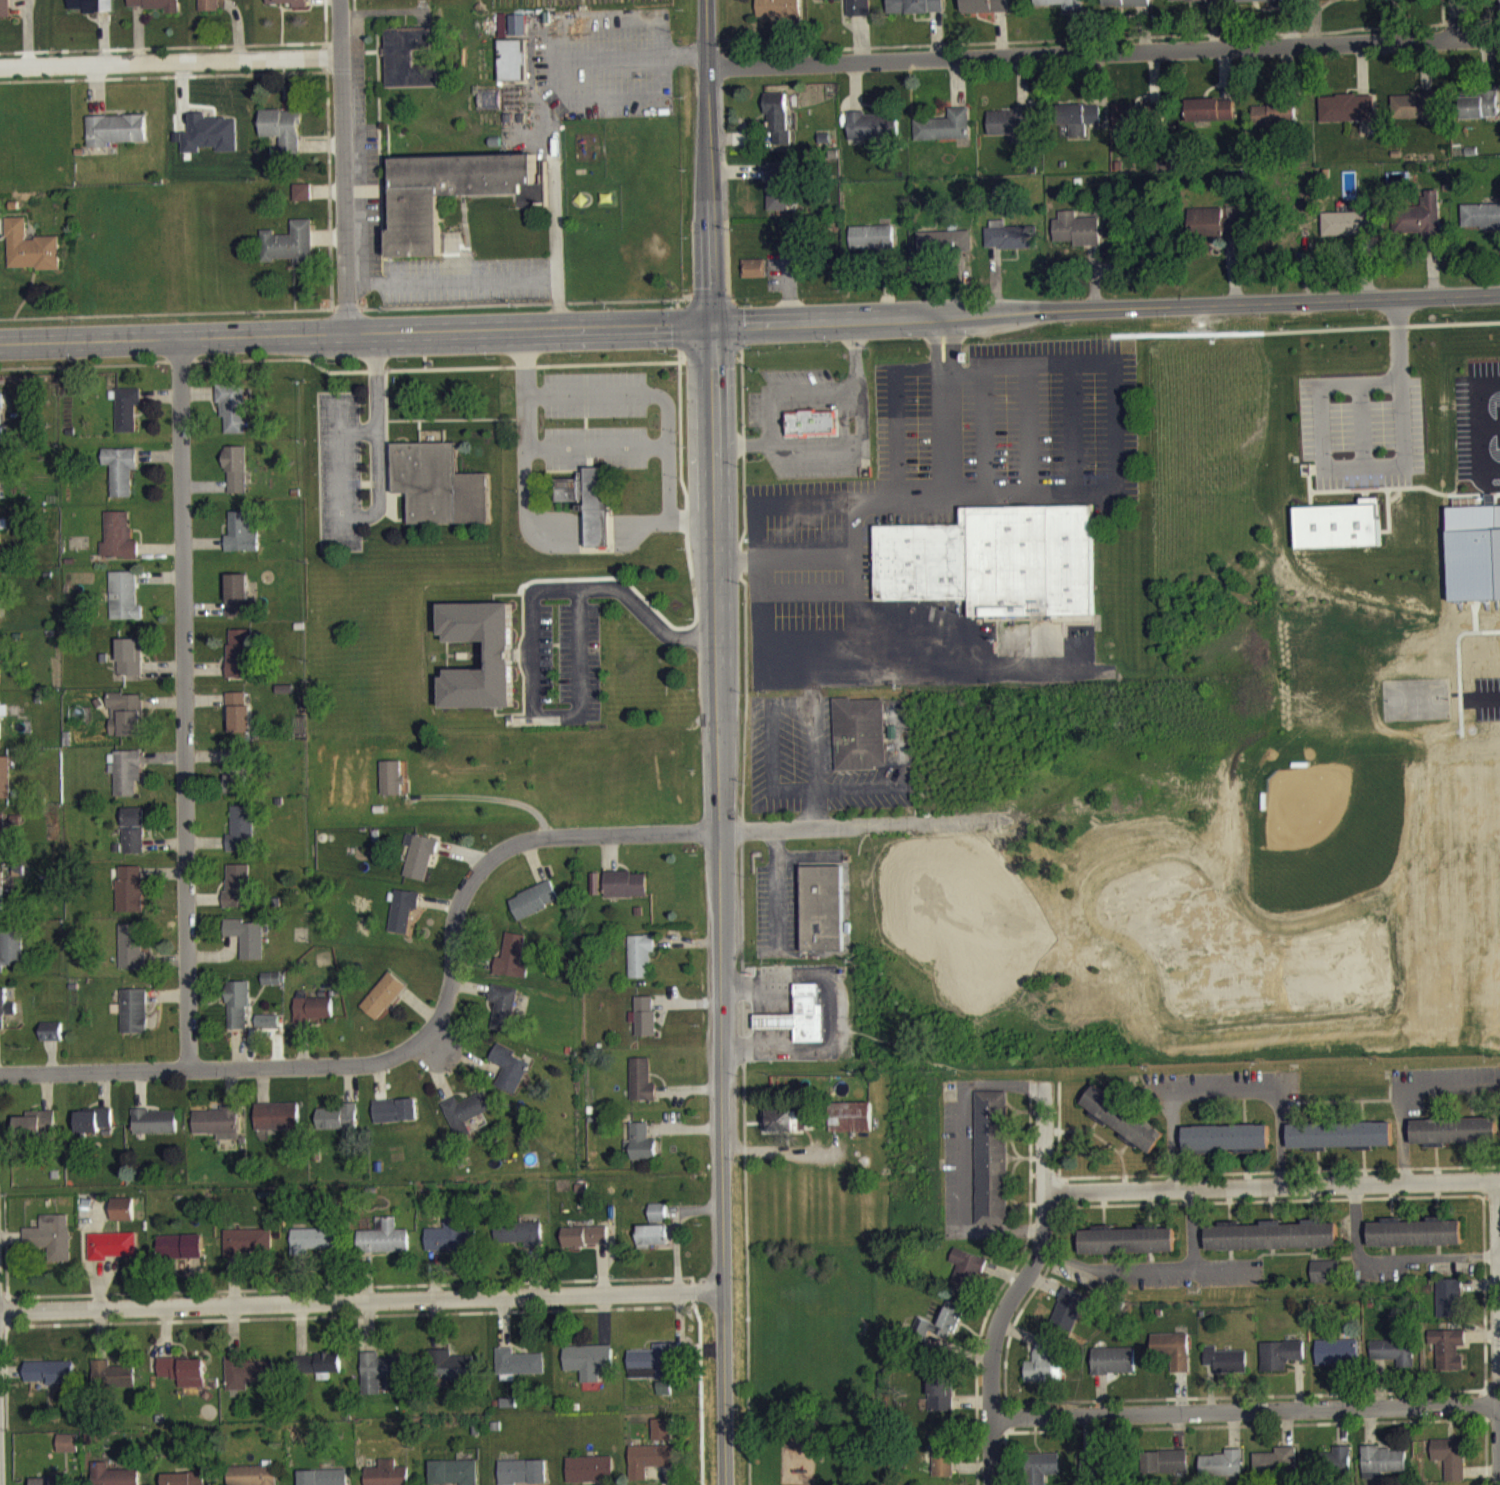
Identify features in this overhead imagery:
building: (1335, 3)
building: (1395, 3)
building: (1195, 5)
building: (1255, 5)
building: (288, 7)
building: (215, 8)
building: (1060, 8)
building: (1127, 8)
building: (155, 9)
building: (91, 10)
building: (849, 10)
building: (915, 11)
building: (986, 11)
building: (5, 13)
building: (778, 15)
road: (1444, 21)
road: (1102, 55)
road: (608, 58)
road: (170, 61)
building: (409, 68)
building: (513, 70)
building: (1414, 115)
building: (1480, 115)
building: (1347, 118)
building: (1210, 119)
building: (1276, 122)
building: (1133, 125)
building: (778, 128)
building: (1079, 128)
building: (1011, 133)
building: (873, 136)
building: (944, 136)
building: (283, 138)
building: (116, 139)
building: (210, 143)
road: (343, 165)
building: (455, 193)
building: (779, 197)
building: (302, 202)
road: (556, 215)
building: (1419, 226)
building: (1481, 226)
building: (1212, 233)
building: (1351, 233)
building: (1077, 239)
building: (31, 245)
building: (1007, 245)
building: (873, 248)
building: (289, 252)
building: (944, 252)
building: (753, 278)
road: (452, 279)
road: (1104, 311)
traffic signals: (709, 324)
road: (941, 329)
road: (354, 331)
road: (949, 360)
road: (935, 361)
road: (655, 407)
building: (1, 411)
building: (233, 416)
building: (127, 419)
road: (1478, 425)
building: (811, 433)
road: (1112, 433)
building: (1, 441)
road: (1370, 474)
building: (236, 478)
building: (121, 480)
road: (377, 494)
building: (439, 495)
building: (589, 512)
building: (1337, 523)
road: (537, 524)
building: (1499, 535)
building: (241, 543)
building: (118, 546)
road: (755, 553)
building: (0, 555)
building: (995, 560)
road: (782, 570)
building: (238, 605)
building: (124, 606)
road: (531, 646)
building: (240, 663)
building: (501, 665)
building: (130, 666)
building: (0, 667)
road: (183, 701)
building: (239, 722)
building: (126, 724)
building: (0, 732)
road: (718, 742)
building: (858, 744)
building: (236, 777)
building: (126, 781)
building: (4, 787)
building: (391, 787)
road: (485, 796)
road: (797, 826)
building: (241, 839)
building: (133, 840)
building: (2, 845)
building: (419, 866)
building: (626, 894)
building: (237, 897)
building: (130, 898)
building: (2, 900)
building: (535, 909)
building: (822, 918)
building: (403, 920)
building: (246, 947)
building: (131, 956)
building: (11, 959)
building: (640, 965)
building: (513, 967)
building: (271, 988)
building: (383, 1005)
road: (841, 1012)
building: (237, 1015)
building: (5, 1016)
building: (504, 1016)
building: (313, 1019)
building: (134, 1021)
building: (800, 1026)
building: (267, 1031)
road: (423, 1034)
building: (52, 1041)
building: (511, 1078)
building: (642, 1090)
road: (1226, 1090)
road: (1407, 1091)
building: (1122, 1117)
building: (396, 1120)
building: (466, 1122)
building: (278, 1126)
building: (338, 1127)
building: (851, 1127)
building: (1453, 1129)
building: (93, 1130)
building: (783, 1130)
building: (155, 1131)
building: (220, 1133)
building: (36, 1134)
building: (1339, 1134)
building: (1225, 1136)
building: (642, 1153)
building: (991, 1168)
road: (1271, 1185)
building: (123, 1219)
building: (658, 1222)
building: (1414, 1230)
building: (1270, 1233)
building: (1126, 1237)
building: (520, 1243)
building: (452, 1244)
building: (652, 1245)
building: (585, 1246)
building: (51, 1247)
building: (384, 1247)
building: (316, 1249)
building: (1127, 1250)
building: (248, 1251)
building: (112, 1255)
building: (181, 1257)
road: (1392, 1258)
road: (1221, 1265)
road: (1152, 1267)
building: (966, 1281)
building: (1324, 1282)
road: (1017, 1286)
road: (361, 1299)
building: (1449, 1308)
road: (1499, 1318)
building: (1068, 1320)
building: (940, 1334)
building: (1172, 1359)
building: (1448, 1359)
building: (1337, 1362)
building: (1395, 1362)
building: (1280, 1364)
building: (588, 1370)
building: (1113, 1370)
building: (1225, 1370)
building: (518, 1372)
building: (1045, 1372)
building: (650, 1373)
building: (318, 1374)
building: (450, 1377)
building: (52, 1381)
building: (184, 1381)
building: (379, 1381)
building: (249, 1382)
building: (113, 1385)
building: (663, 1398)
road: (1245, 1401)
building: (940, 1402)
building: (662, 1439)
building: (69, 1453)
building: (943, 1462)
building: (1450, 1465)
building: (648, 1466)
building: (1385, 1471)
building: (1166, 1472)
building: (1276, 1472)
building: (1332, 1472)
building: (1223, 1473)
building: (1043, 1474)
building: (100, 1475)
building: (590, 1475)
building: (454, 1477)
building: (523, 1477)
building: (387, 1478)
building: (1089, 1479)
building: (252, 1480)
building: (324, 1482)
building: (187, 1483)

